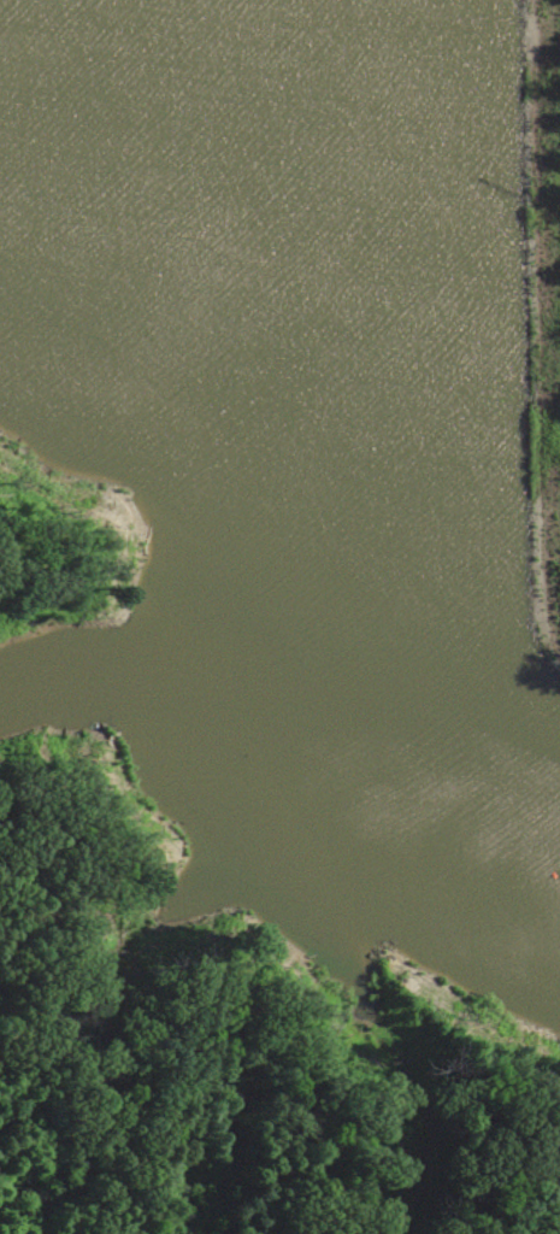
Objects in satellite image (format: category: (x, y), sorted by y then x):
river: (263, 489)

